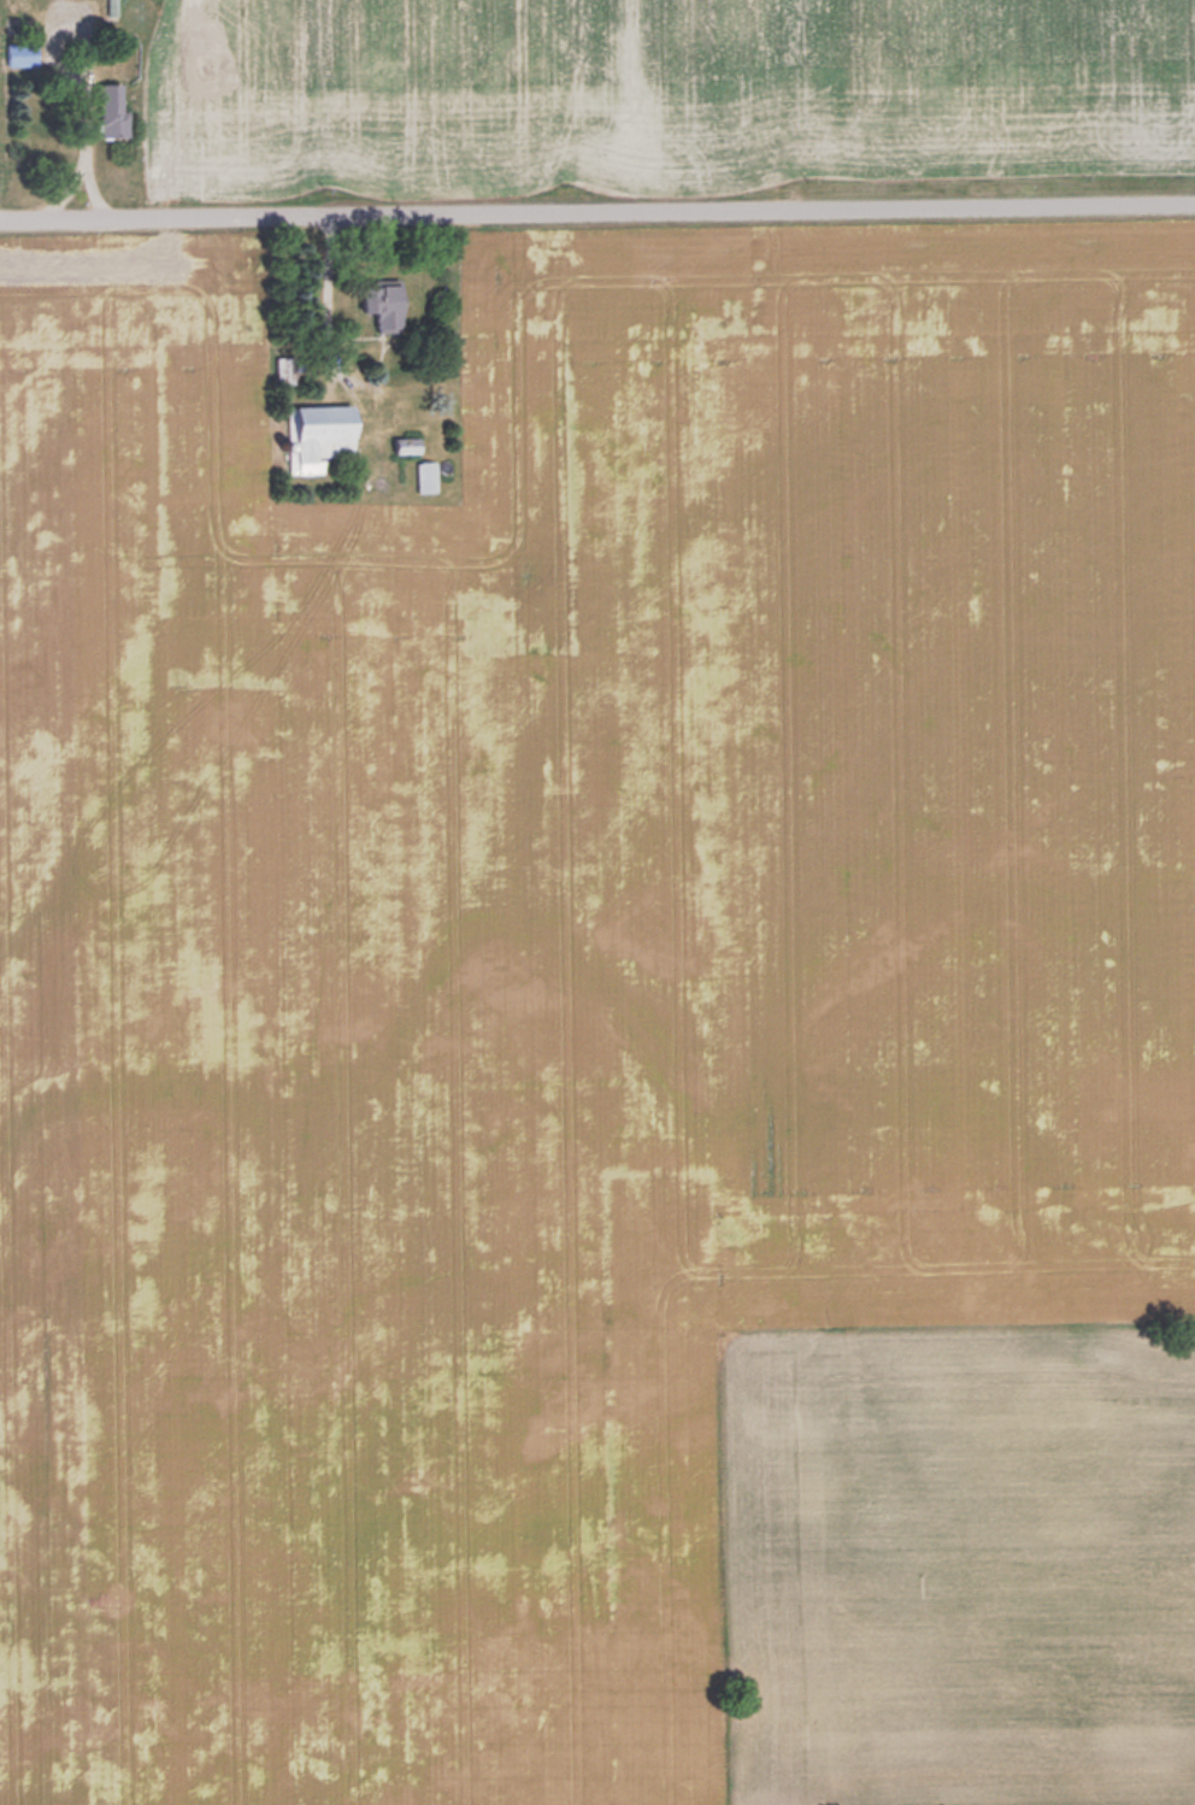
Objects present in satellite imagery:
building: (23, 52)
road: (89, 93)
building: (114, 110)
road: (87, 161)
road: (597, 212)
road: (330, 301)
building: (387, 305)
building: (285, 369)
building: (323, 434)

